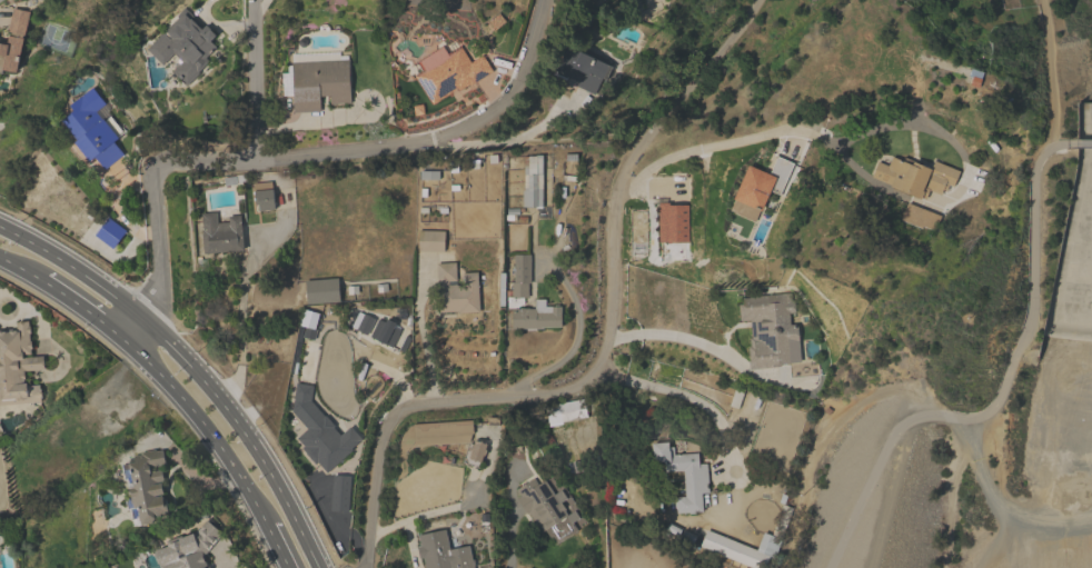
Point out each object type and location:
road: (753, 0)
road: (259, 8)
building: (185, 46)
building: (10, 54)
building: (582, 71)
road: (1050, 71)
building: (449, 72)
road: (252, 79)
building: (317, 80)
building: (92, 132)
road: (438, 134)
road: (1083, 141)
road: (1064, 142)
road: (707, 146)
building: (914, 177)
building: (533, 185)
building: (761, 185)
building: (264, 196)
road: (157, 209)
building: (674, 230)
building: (110, 233)
building: (221, 233)
building: (430, 240)
road: (22, 268)
building: (522, 276)
road: (1033, 286)
building: (457, 290)
building: (321, 291)
road: (86, 309)
building: (537, 317)
building: (373, 327)
building: (771, 331)
road: (673, 337)
dam: (1066, 337)
road: (421, 341)
road: (570, 342)
road: (603, 346)
building: (18, 367)
road: (190, 367)
road: (677, 393)
building: (566, 412)
road: (210, 431)
building: (320, 431)
road: (878, 460)
building: (685, 476)
building: (147, 488)
road: (889, 495)
road: (989, 496)
road: (1000, 506)
building: (546, 512)
road: (507, 537)
building: (188, 548)
building: (741, 549)
building: (443, 551)
road: (287, 552)

